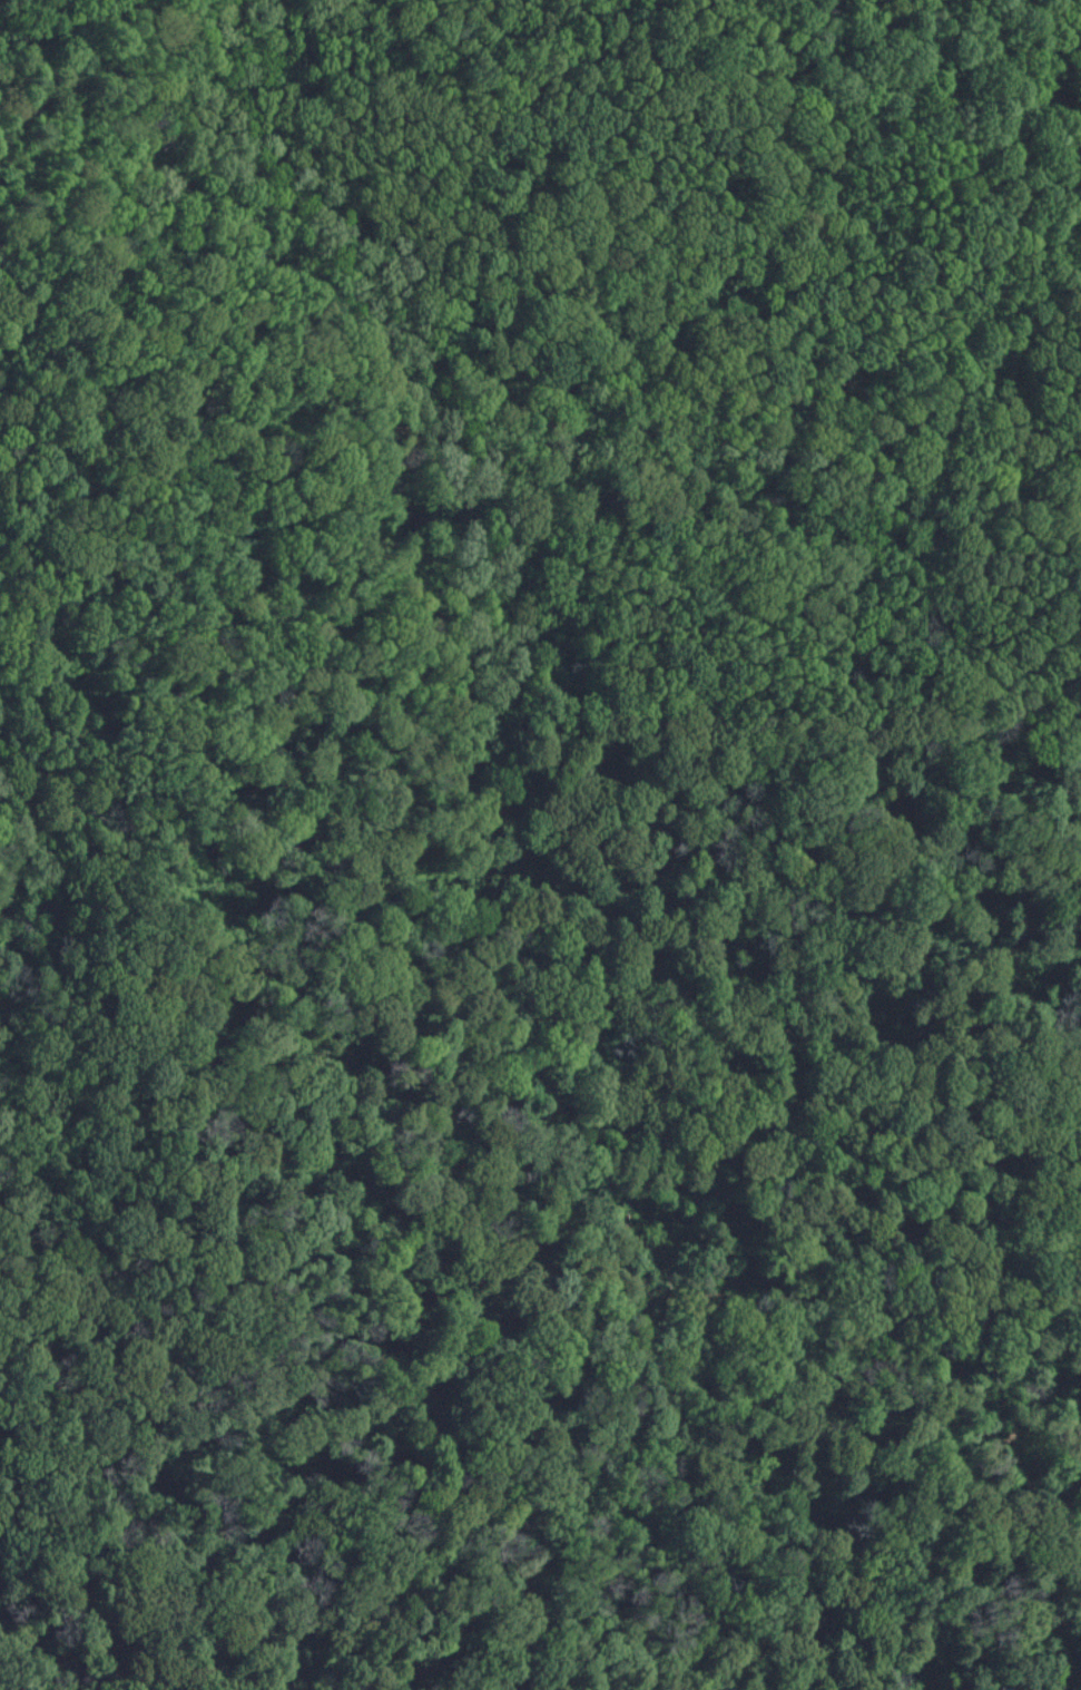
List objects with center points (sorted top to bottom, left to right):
road: (505, 863)

